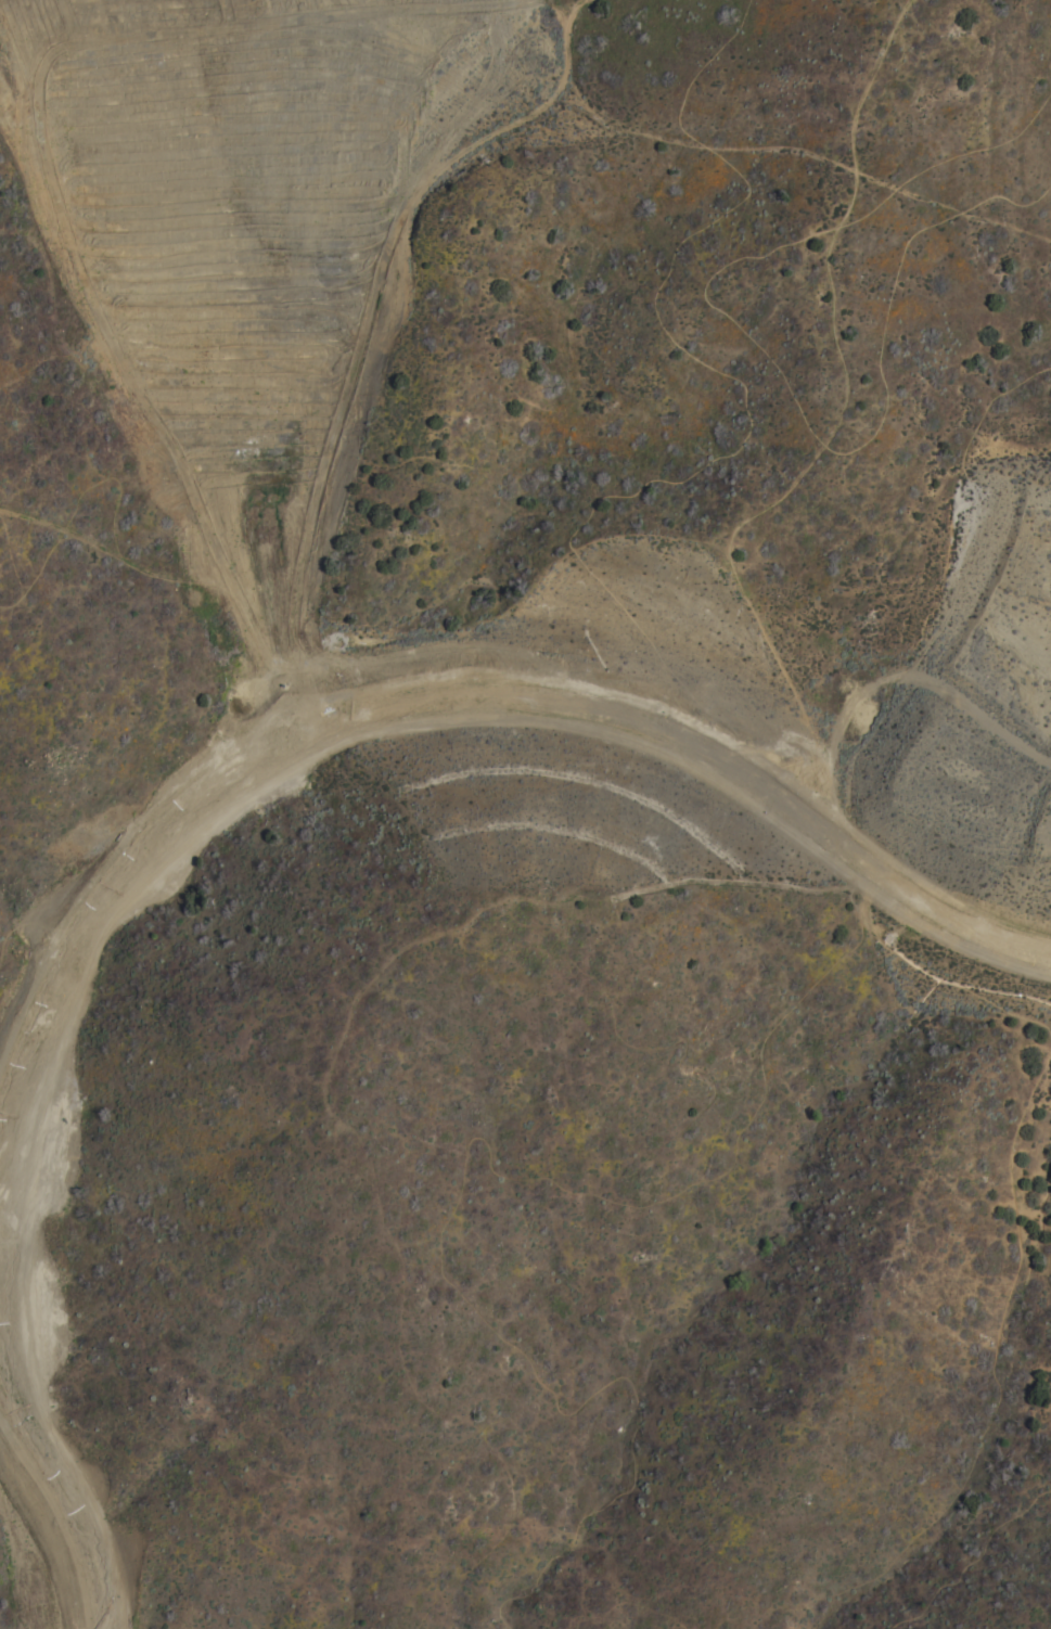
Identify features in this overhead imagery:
road: (563, 11)
road: (395, 331)
road: (579, 534)

